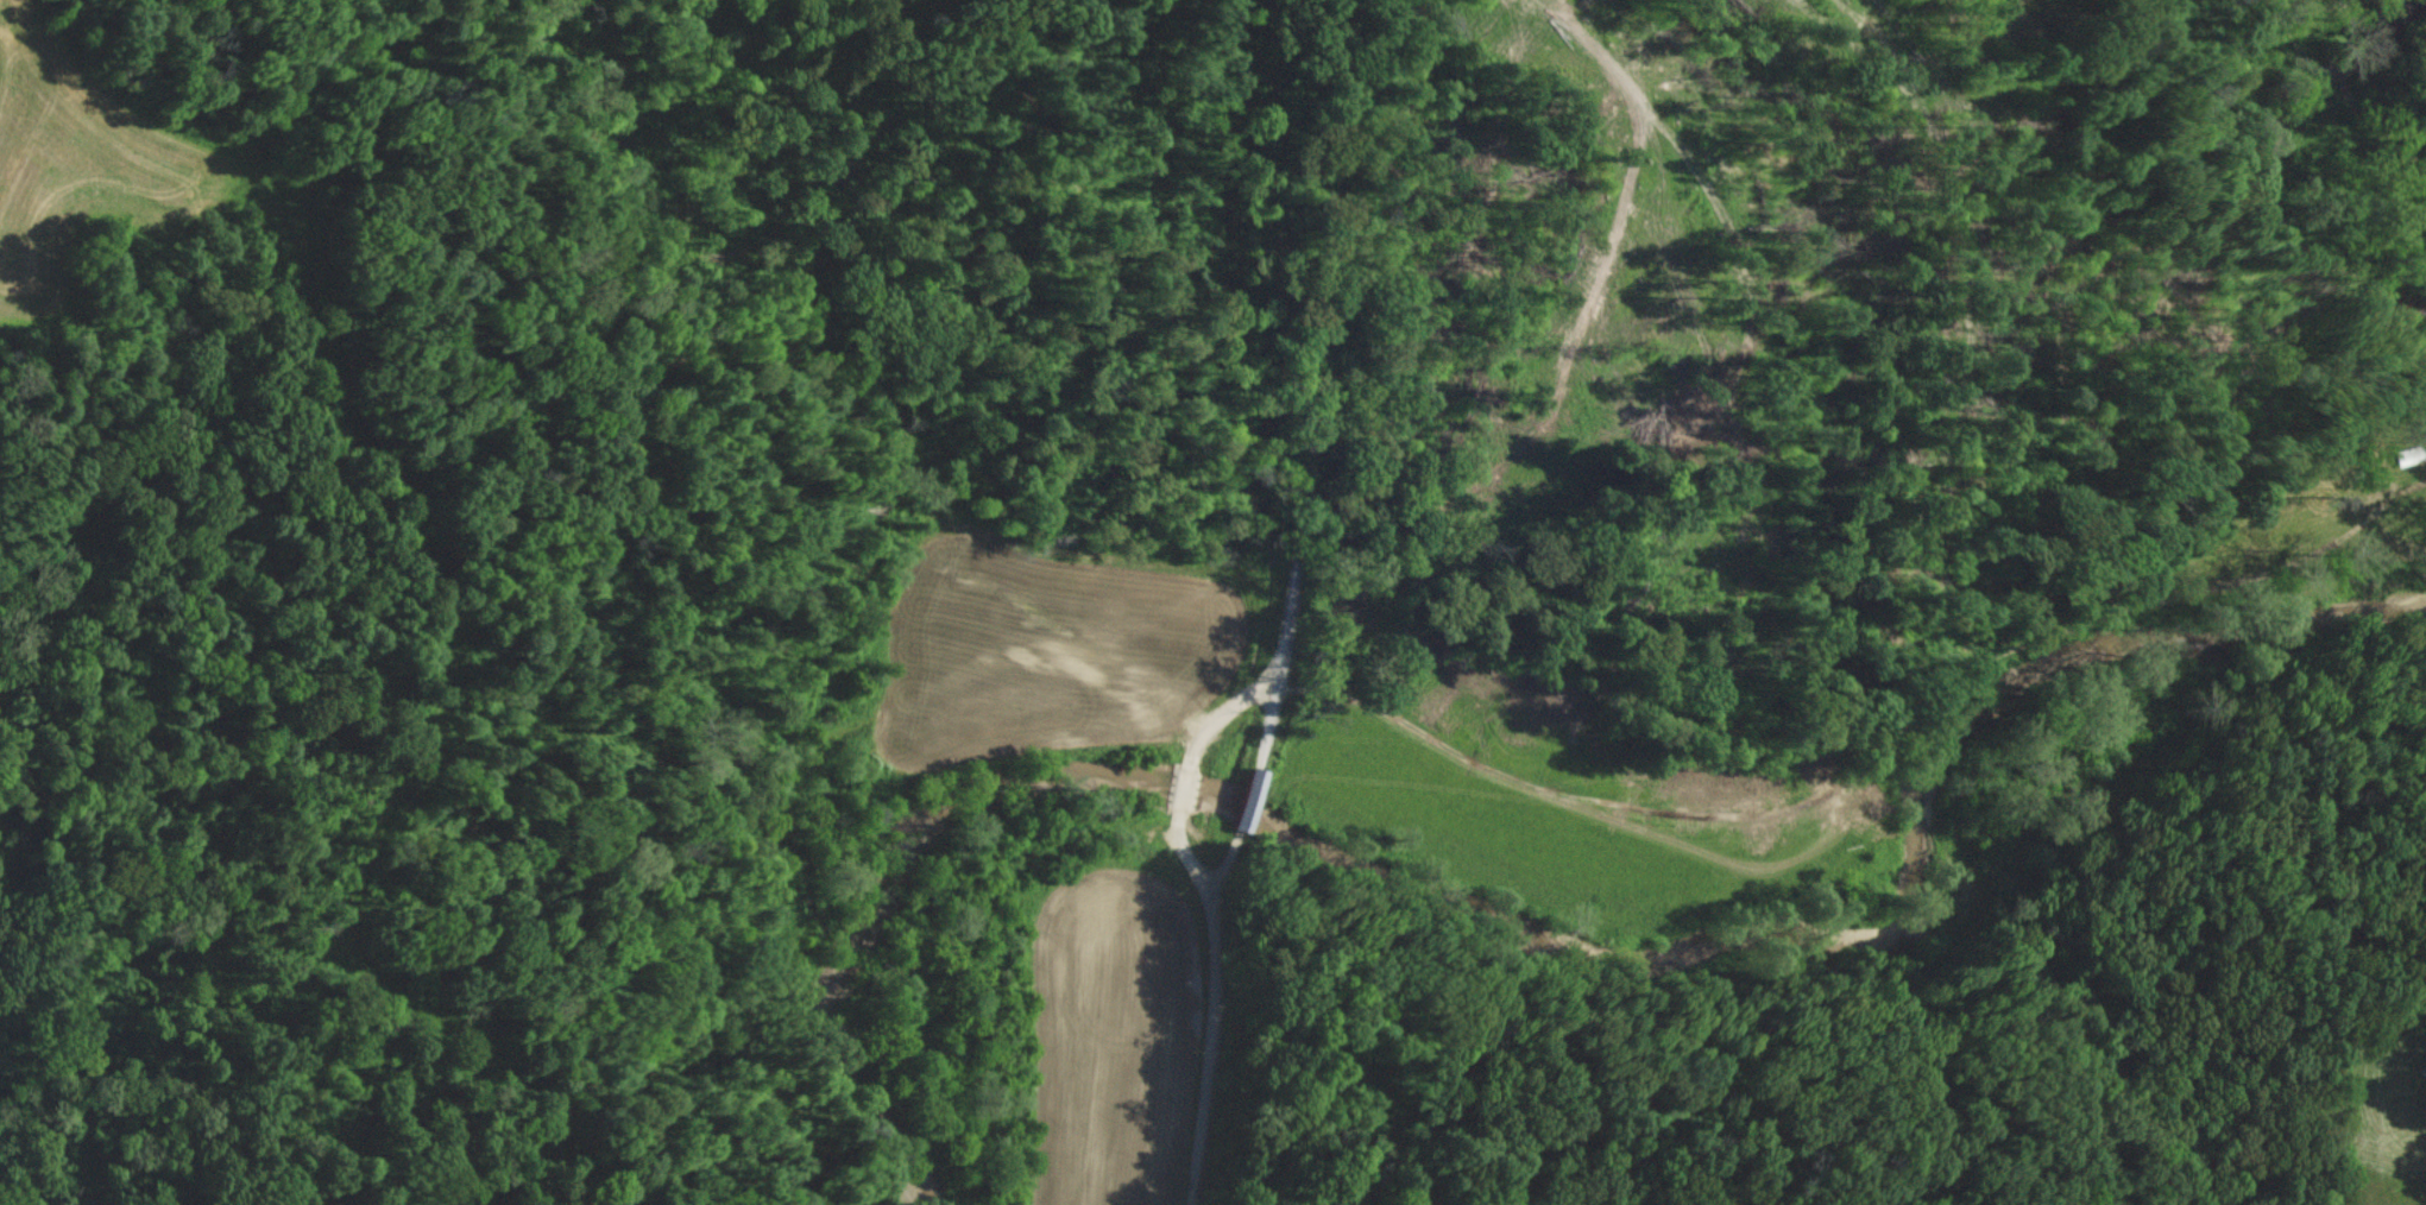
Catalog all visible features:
road: (1310, 381)
road: (1225, 715)
road: (1250, 797)
building: (1244, 799)
road: (1191, 864)
road: (1216, 1015)

